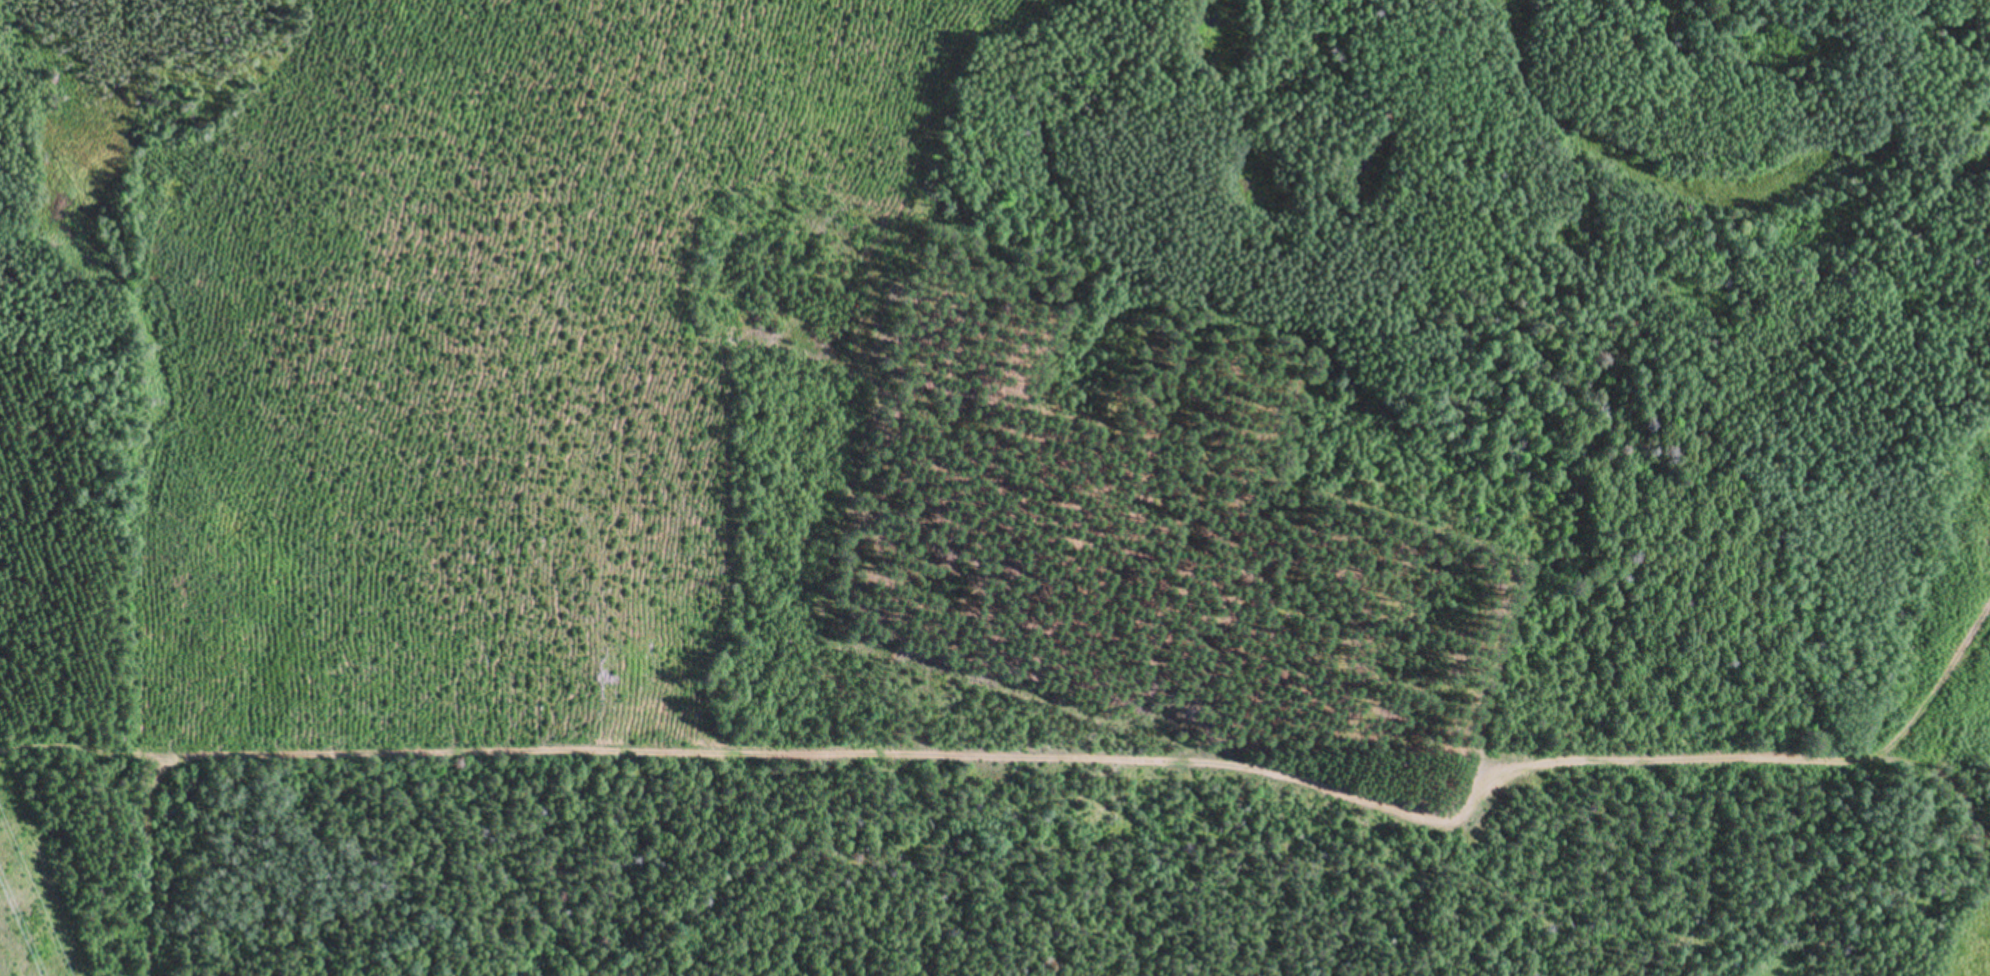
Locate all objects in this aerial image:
road: (993, 758)

